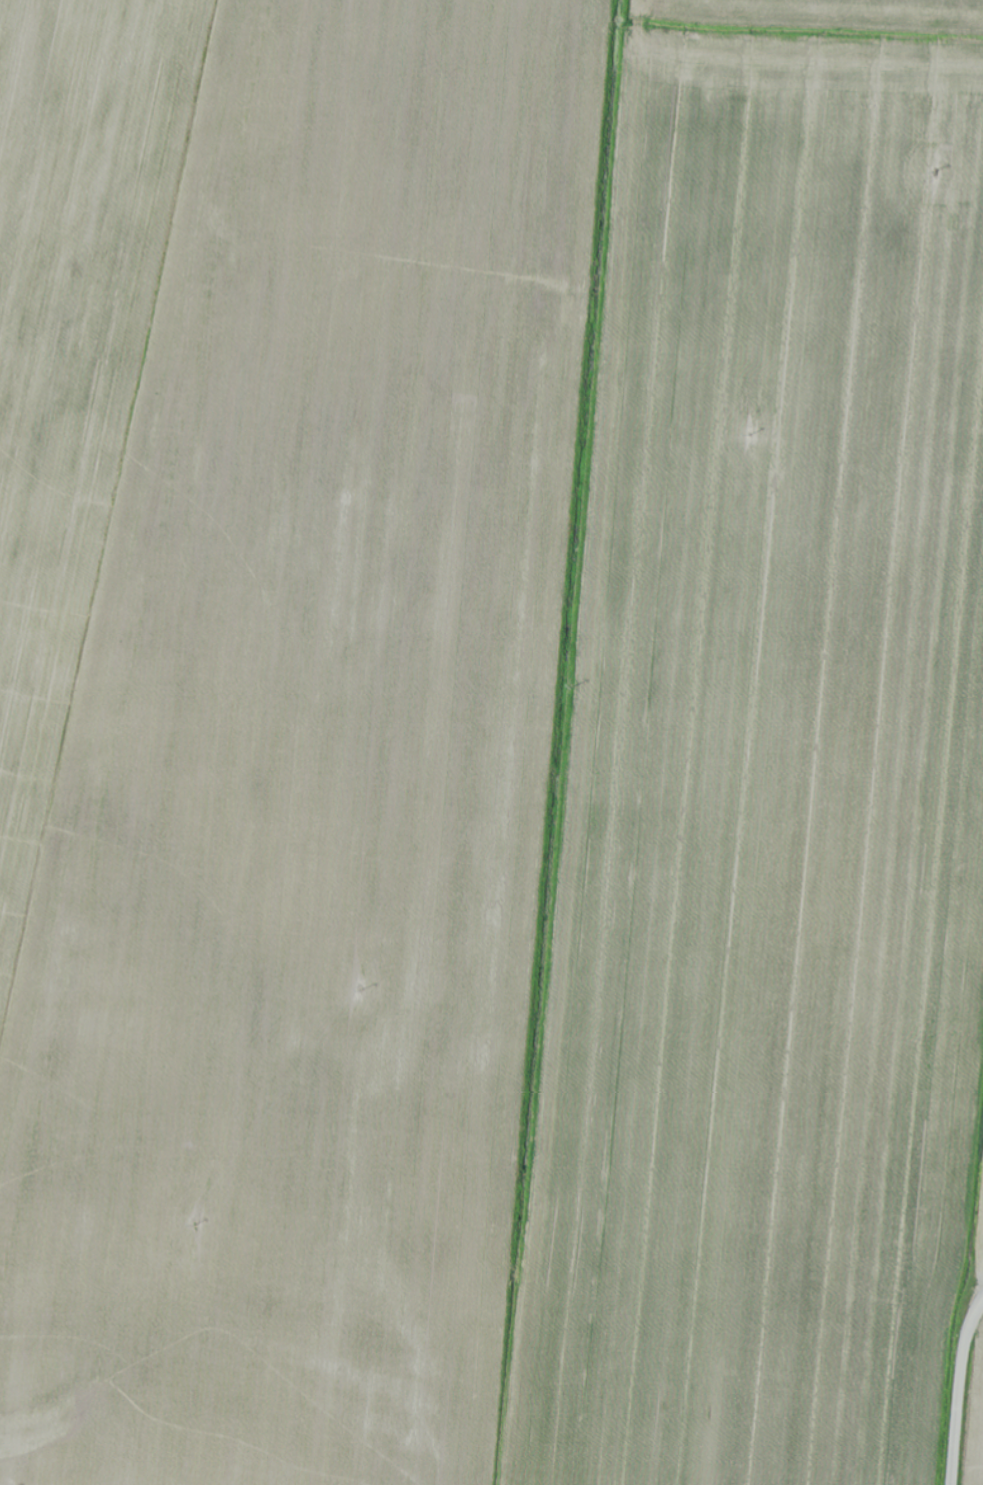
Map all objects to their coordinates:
road: (959, 1394)

